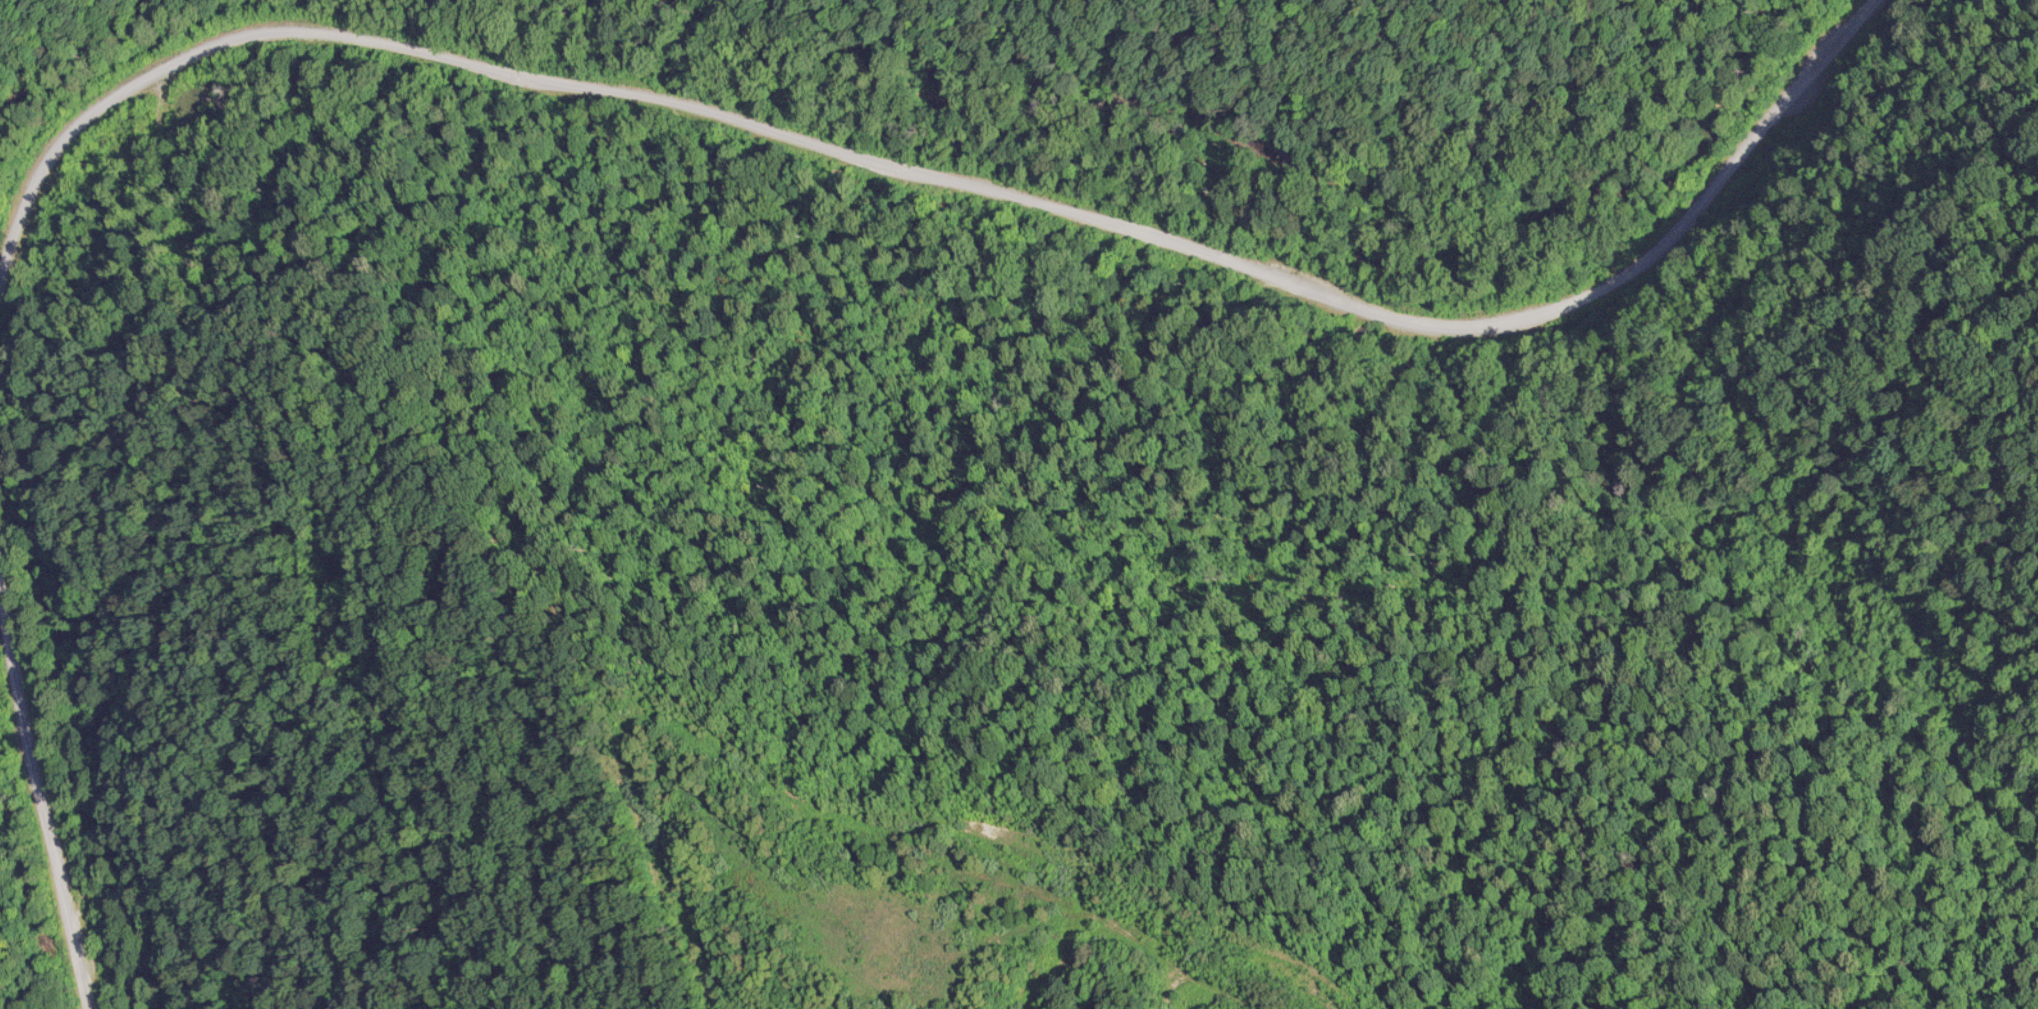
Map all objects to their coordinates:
road: (939, 169)
quarry: (138, 597)
road: (48, 867)

